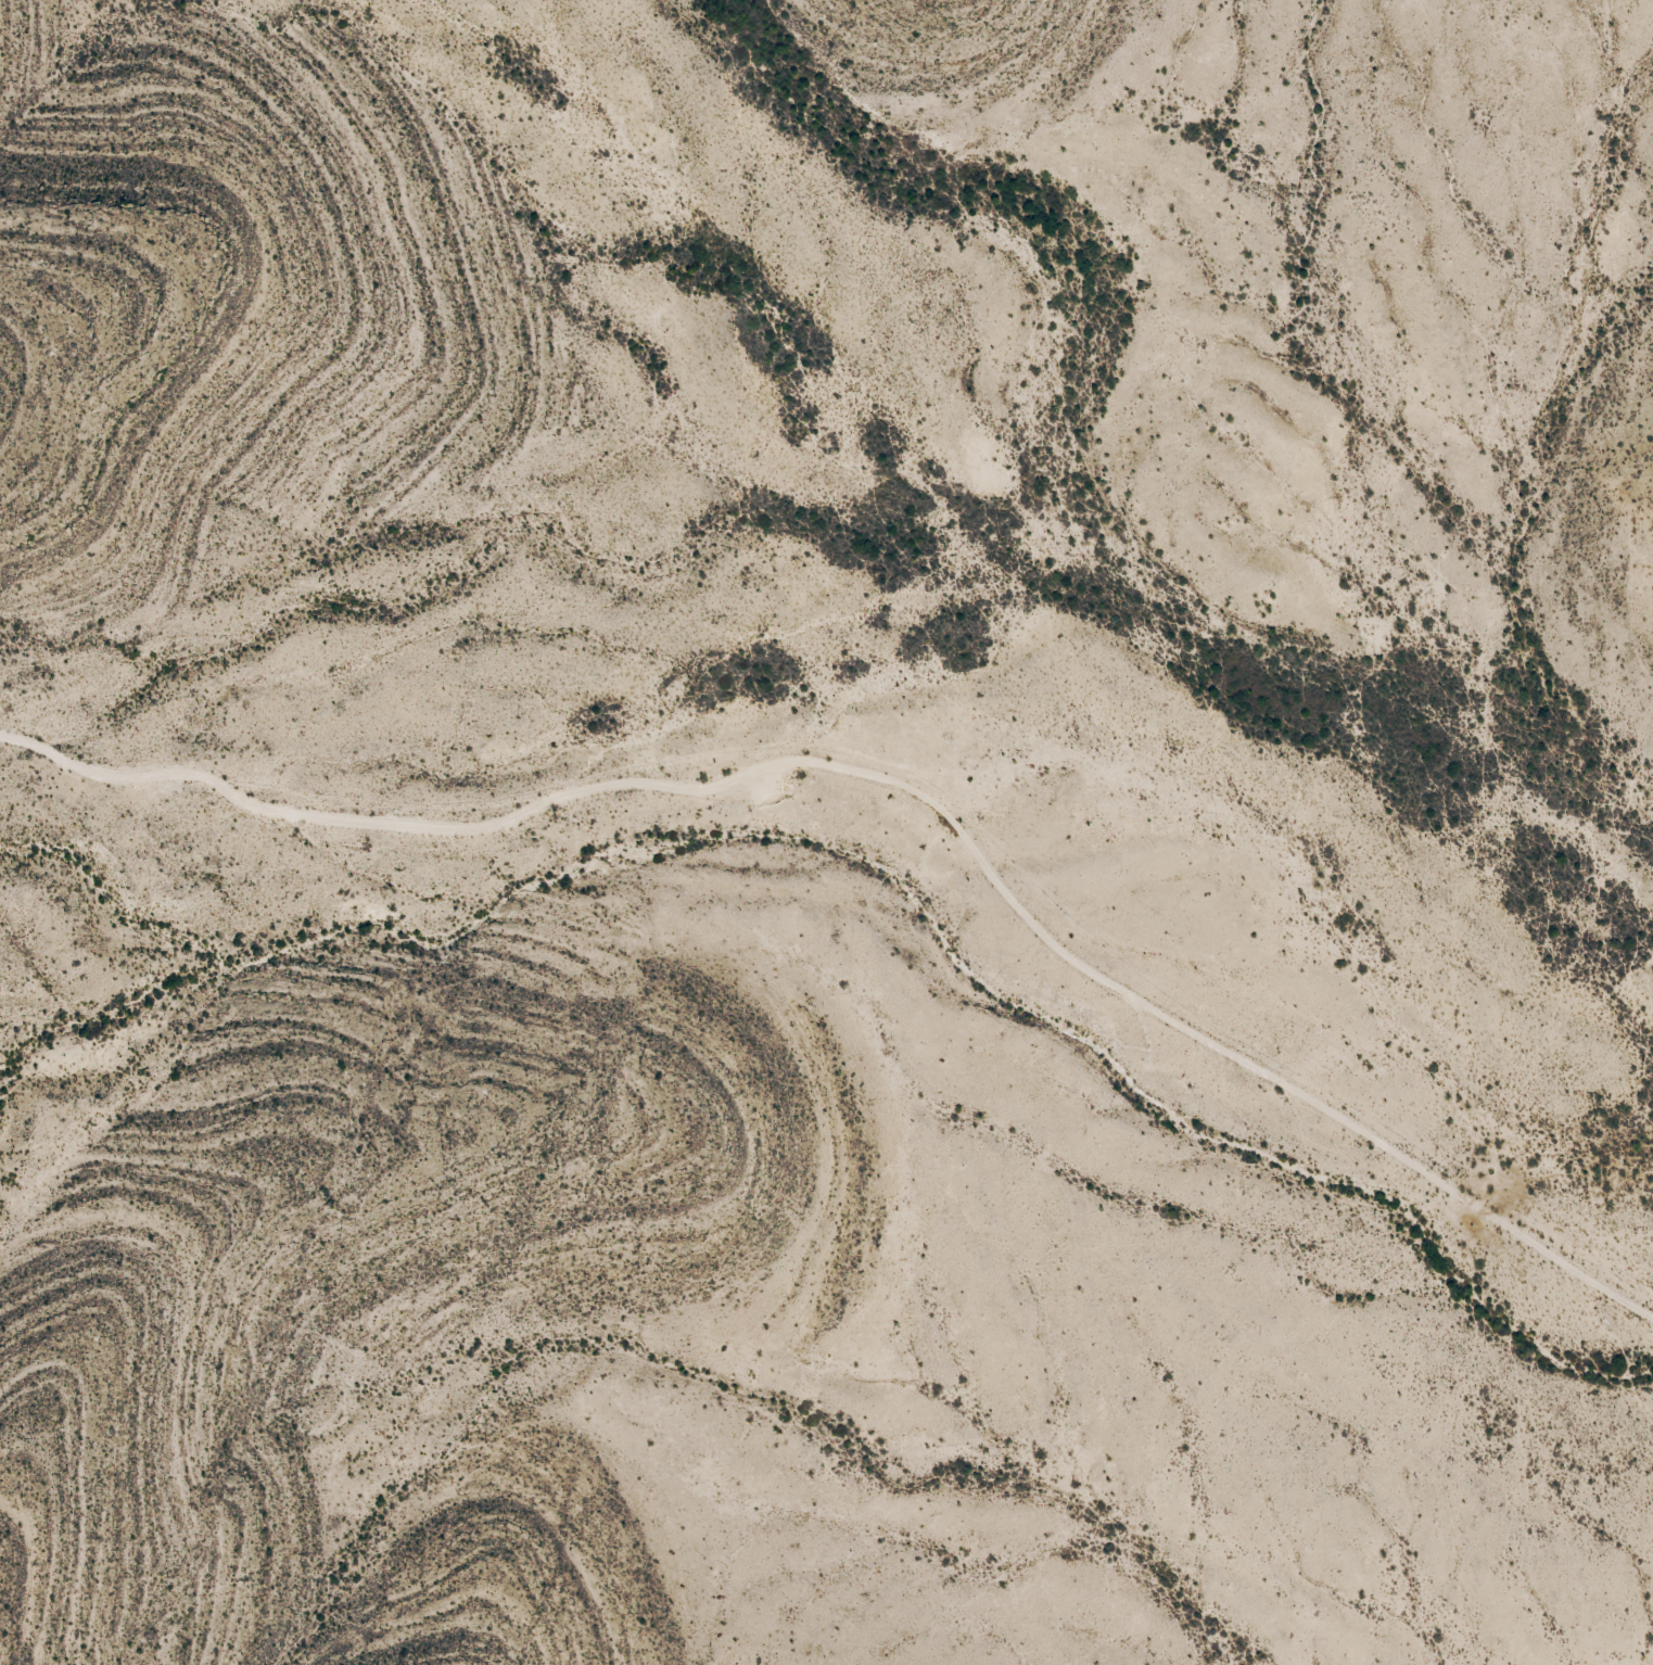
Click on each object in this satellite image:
road: (904, 750)

